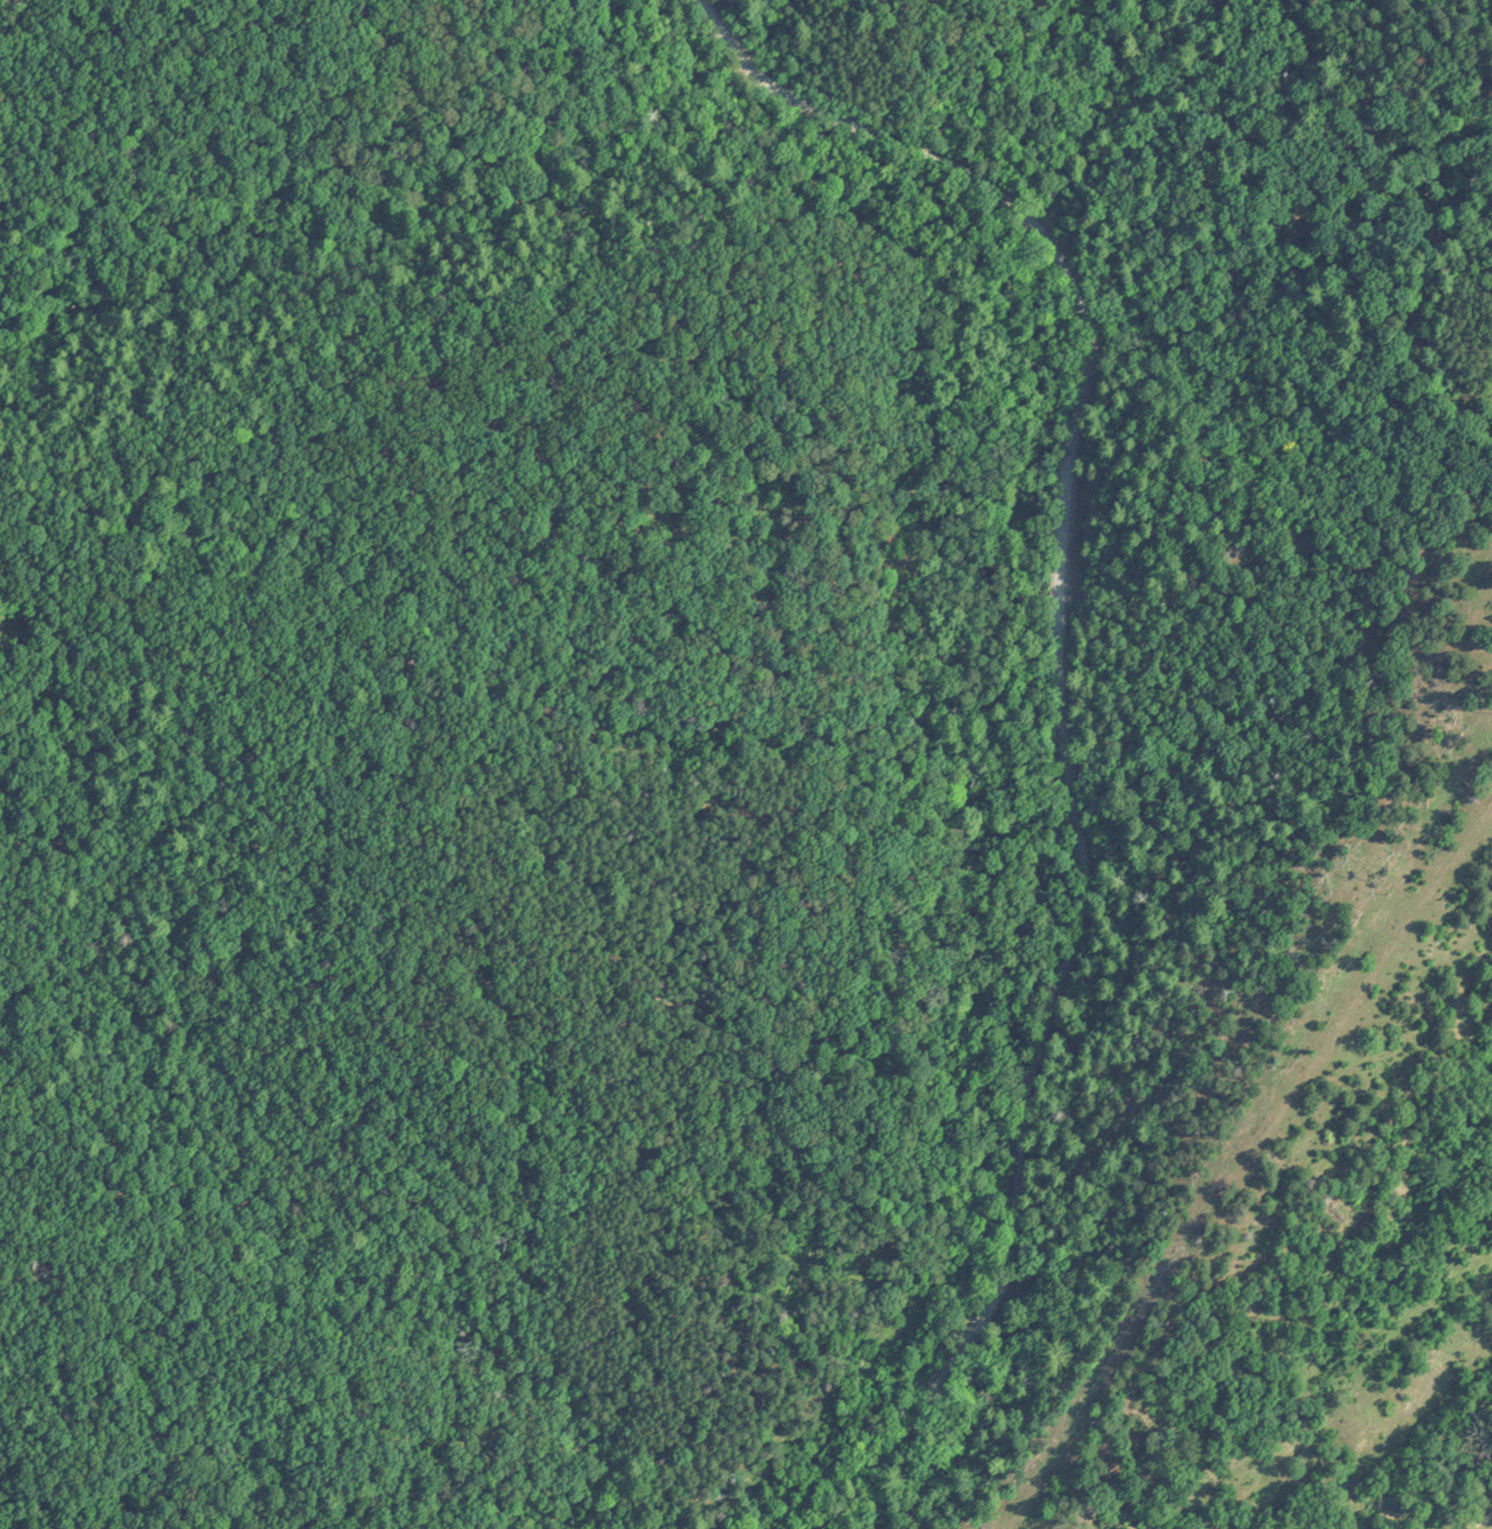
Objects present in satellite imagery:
road: (1087, 728)

